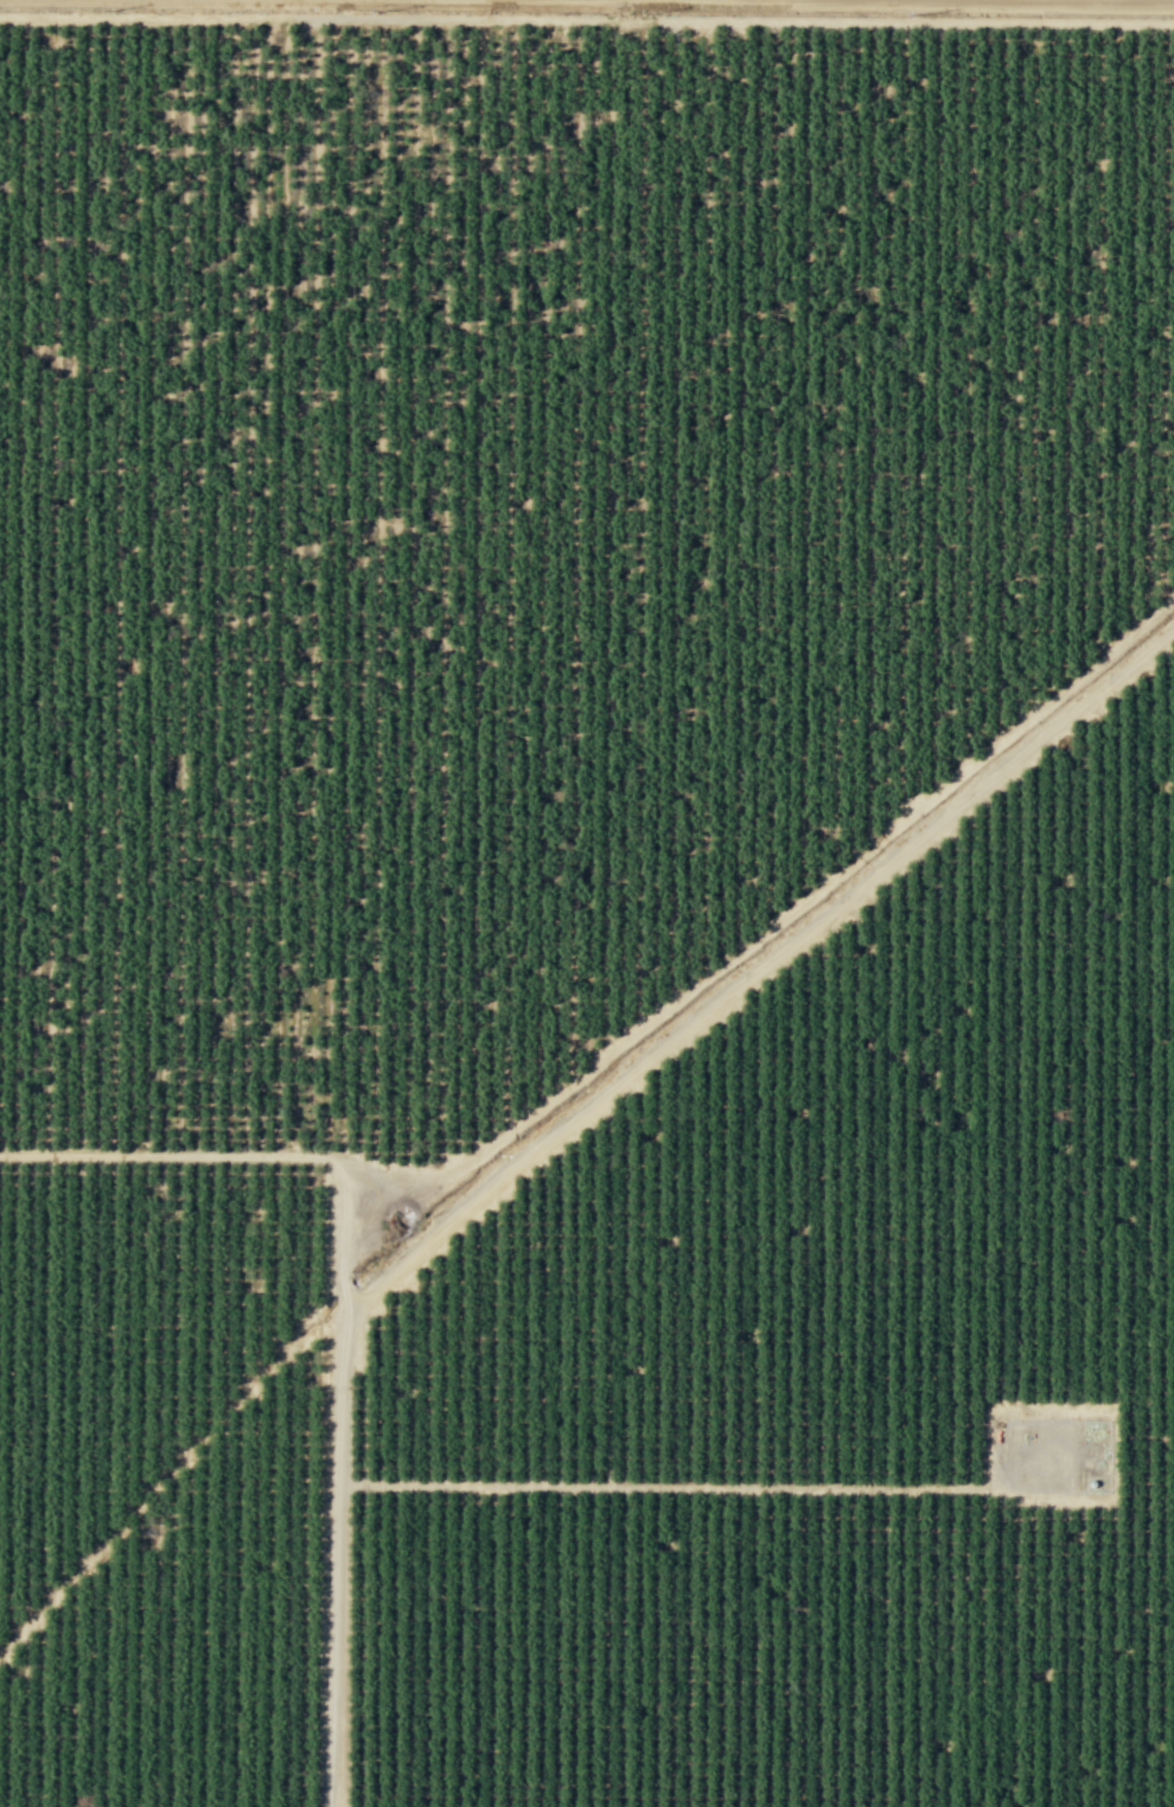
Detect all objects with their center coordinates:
road: (1015, 1)
road: (587, 19)
road: (758, 971)
road: (344, 1316)
road: (167, 1480)
road: (872, 1487)

